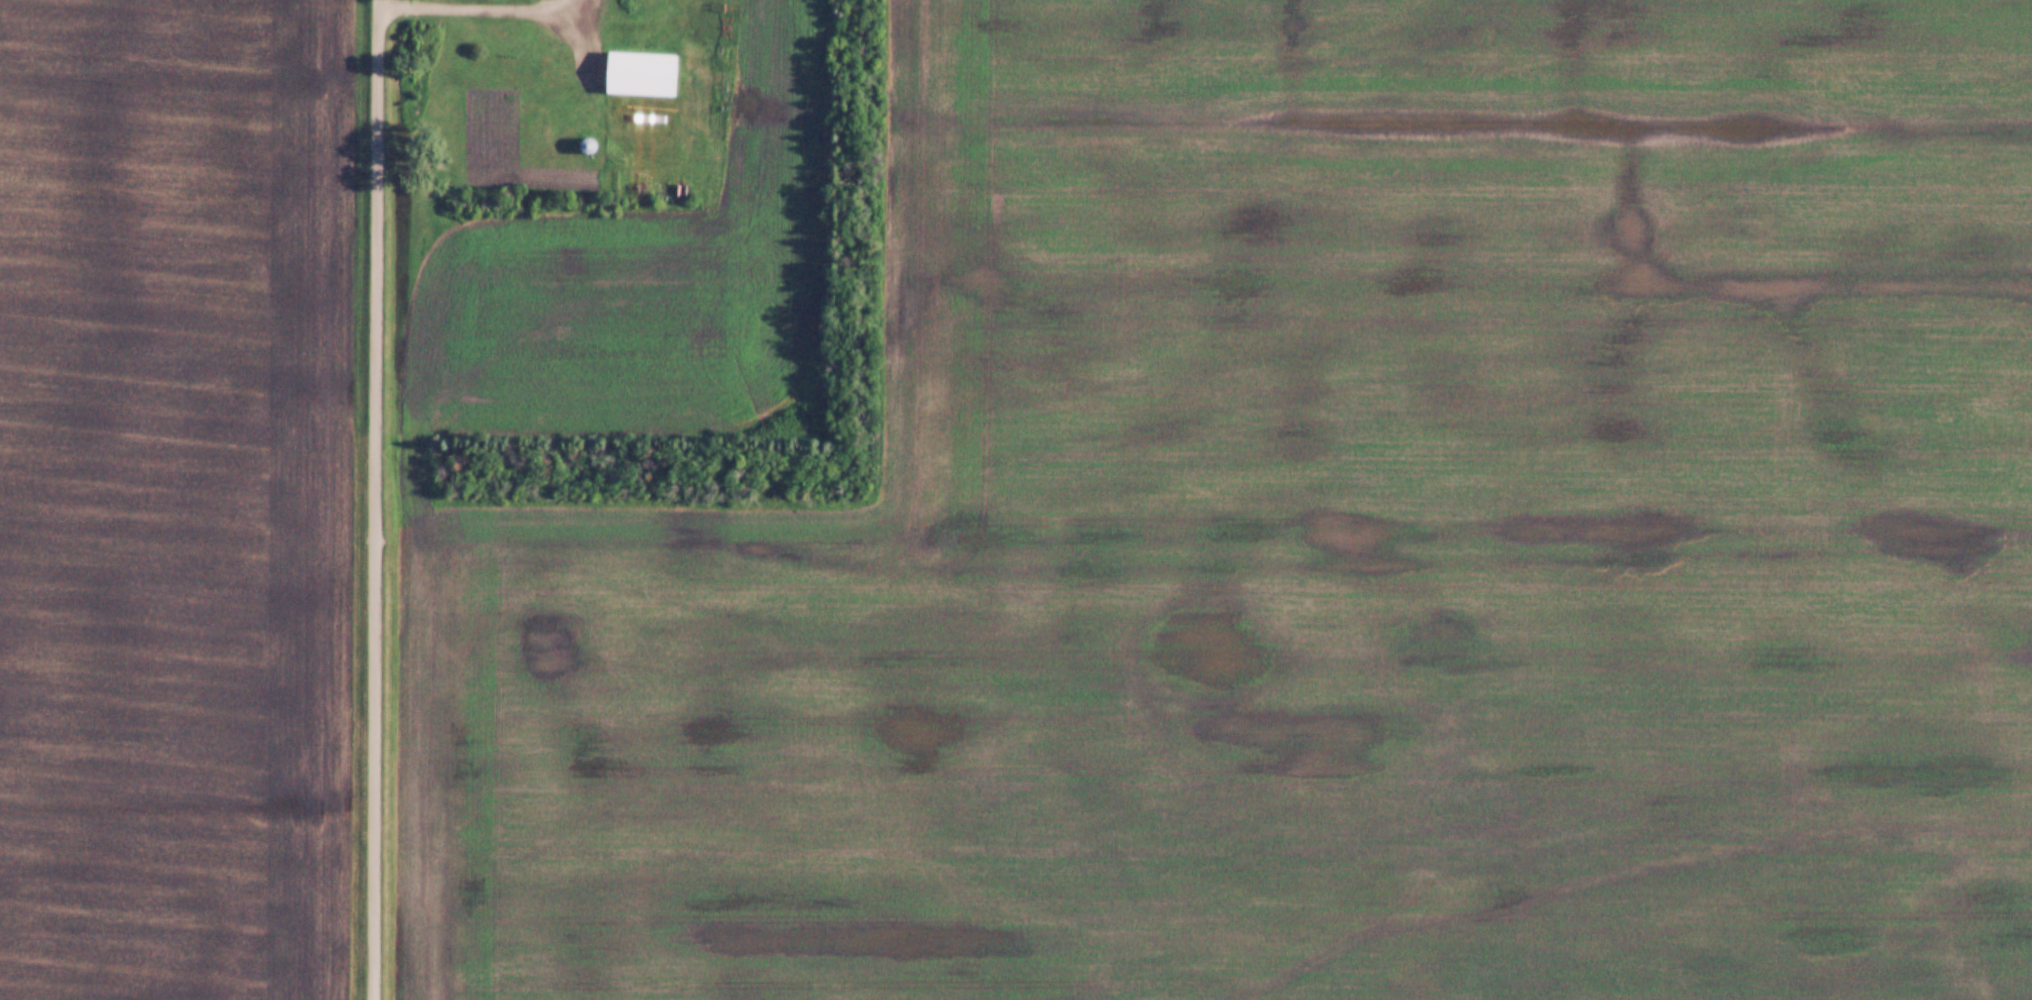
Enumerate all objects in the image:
road: (471, 6)
road: (374, 499)

